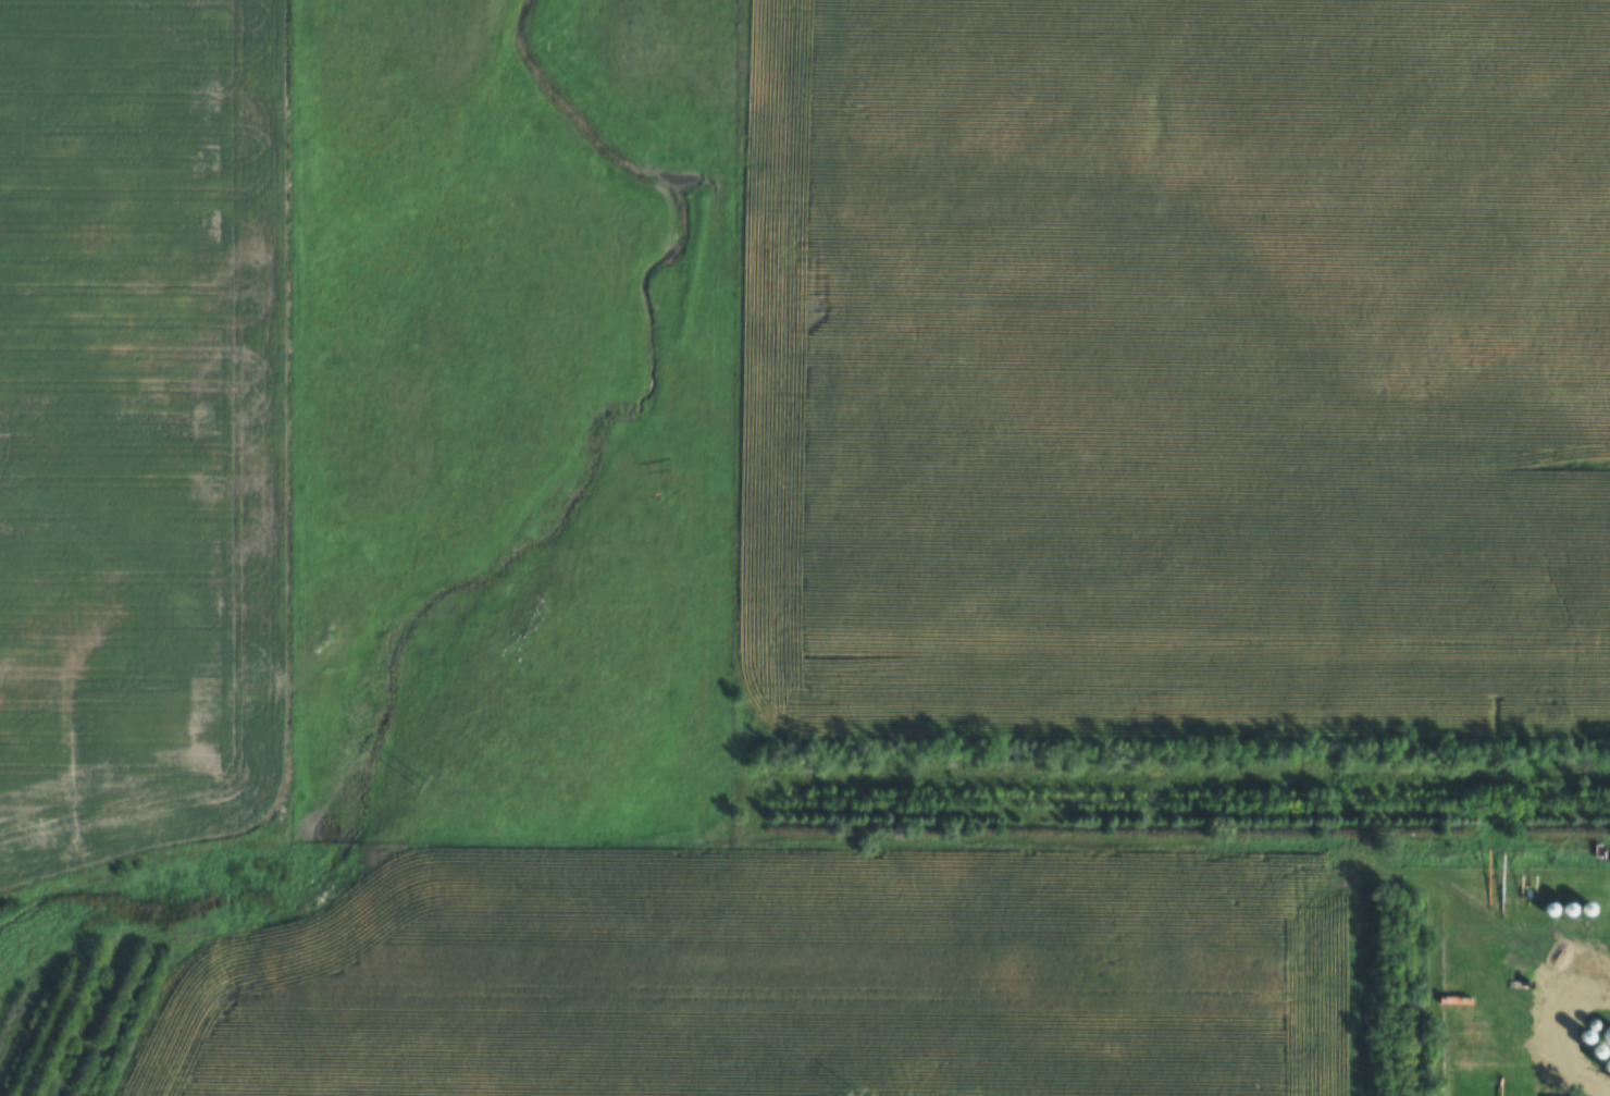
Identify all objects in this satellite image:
power tower: (414, 779)
building: (1593, 1023)
silo: (1593, 1023)
building: (1584, 1036)
silo: (1584, 1036)
building: (1606, 1036)
silo: (1606, 1036)
building: (1597, 1051)
silo: (1597, 1051)
building: (1606, 1066)
silo: (1606, 1066)

